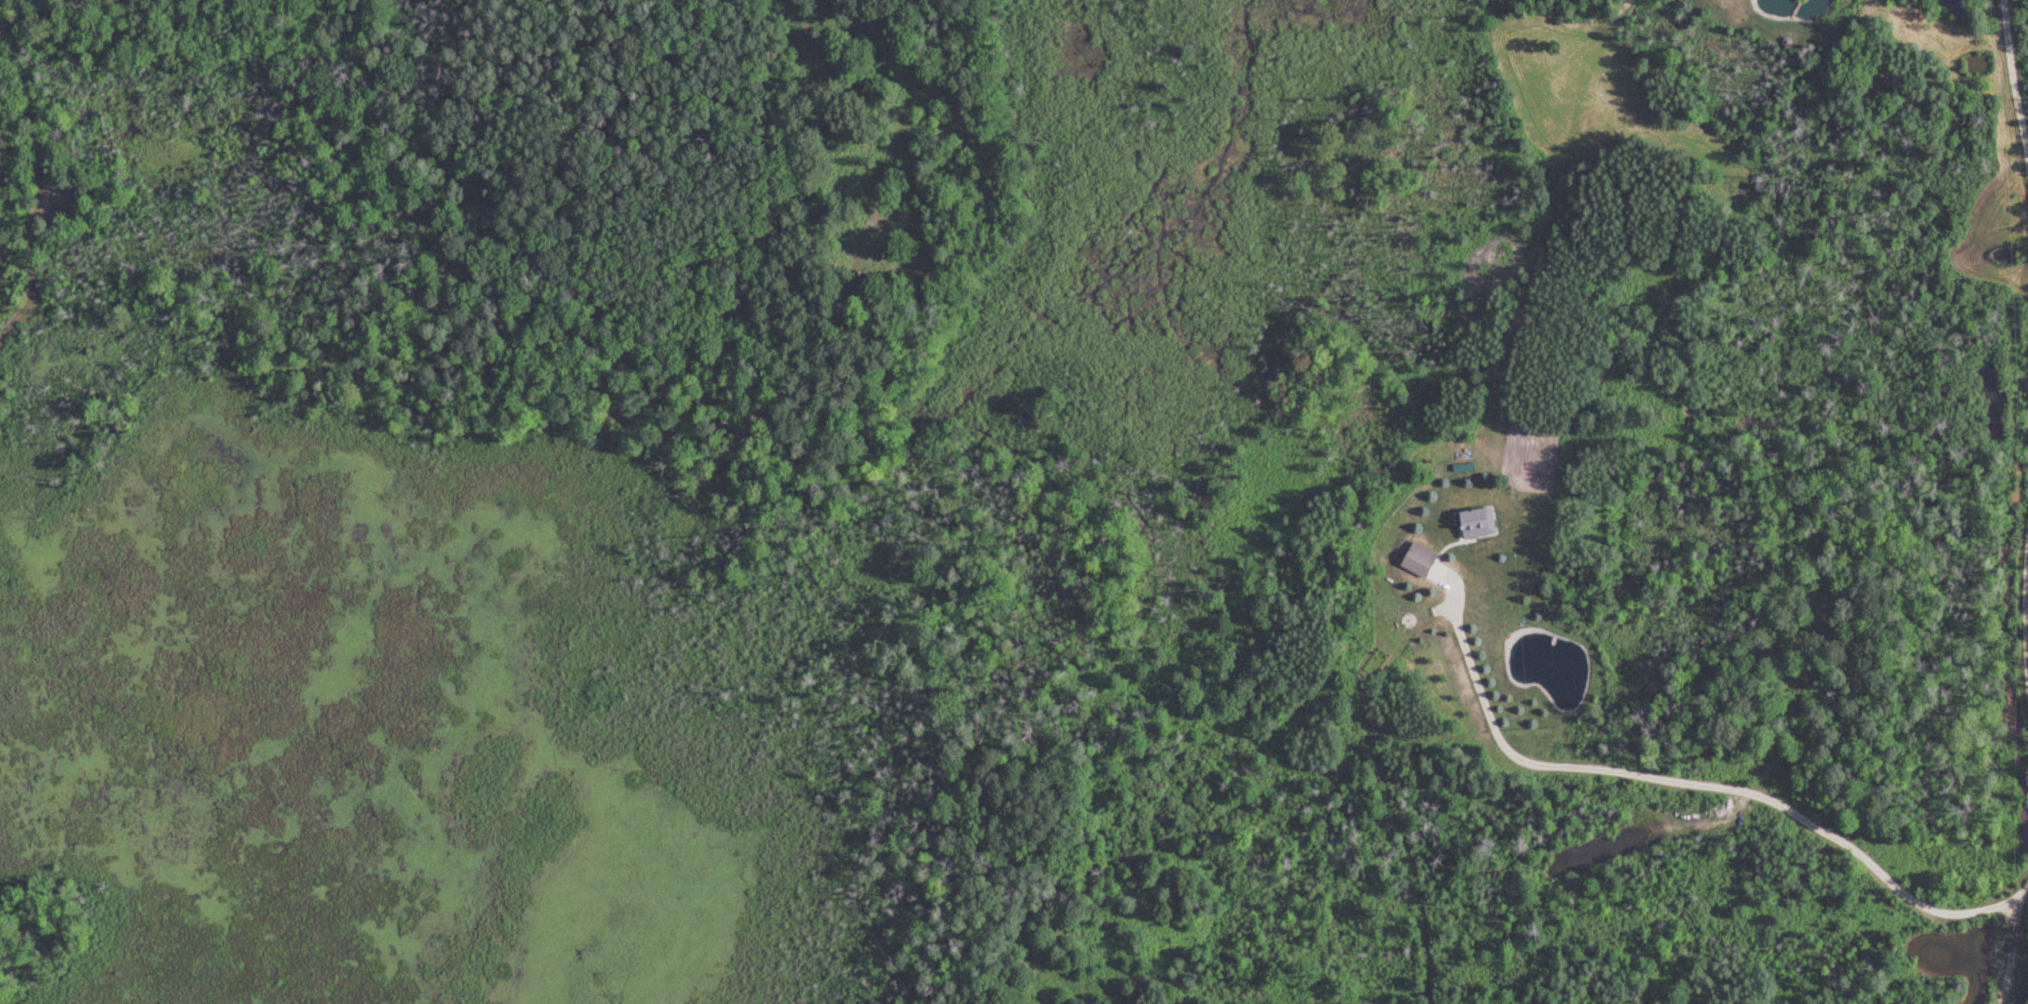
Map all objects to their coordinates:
road: (2015, 91)
building: (1484, 523)
building: (1424, 561)
road: (2023, 602)
road: (1710, 783)

